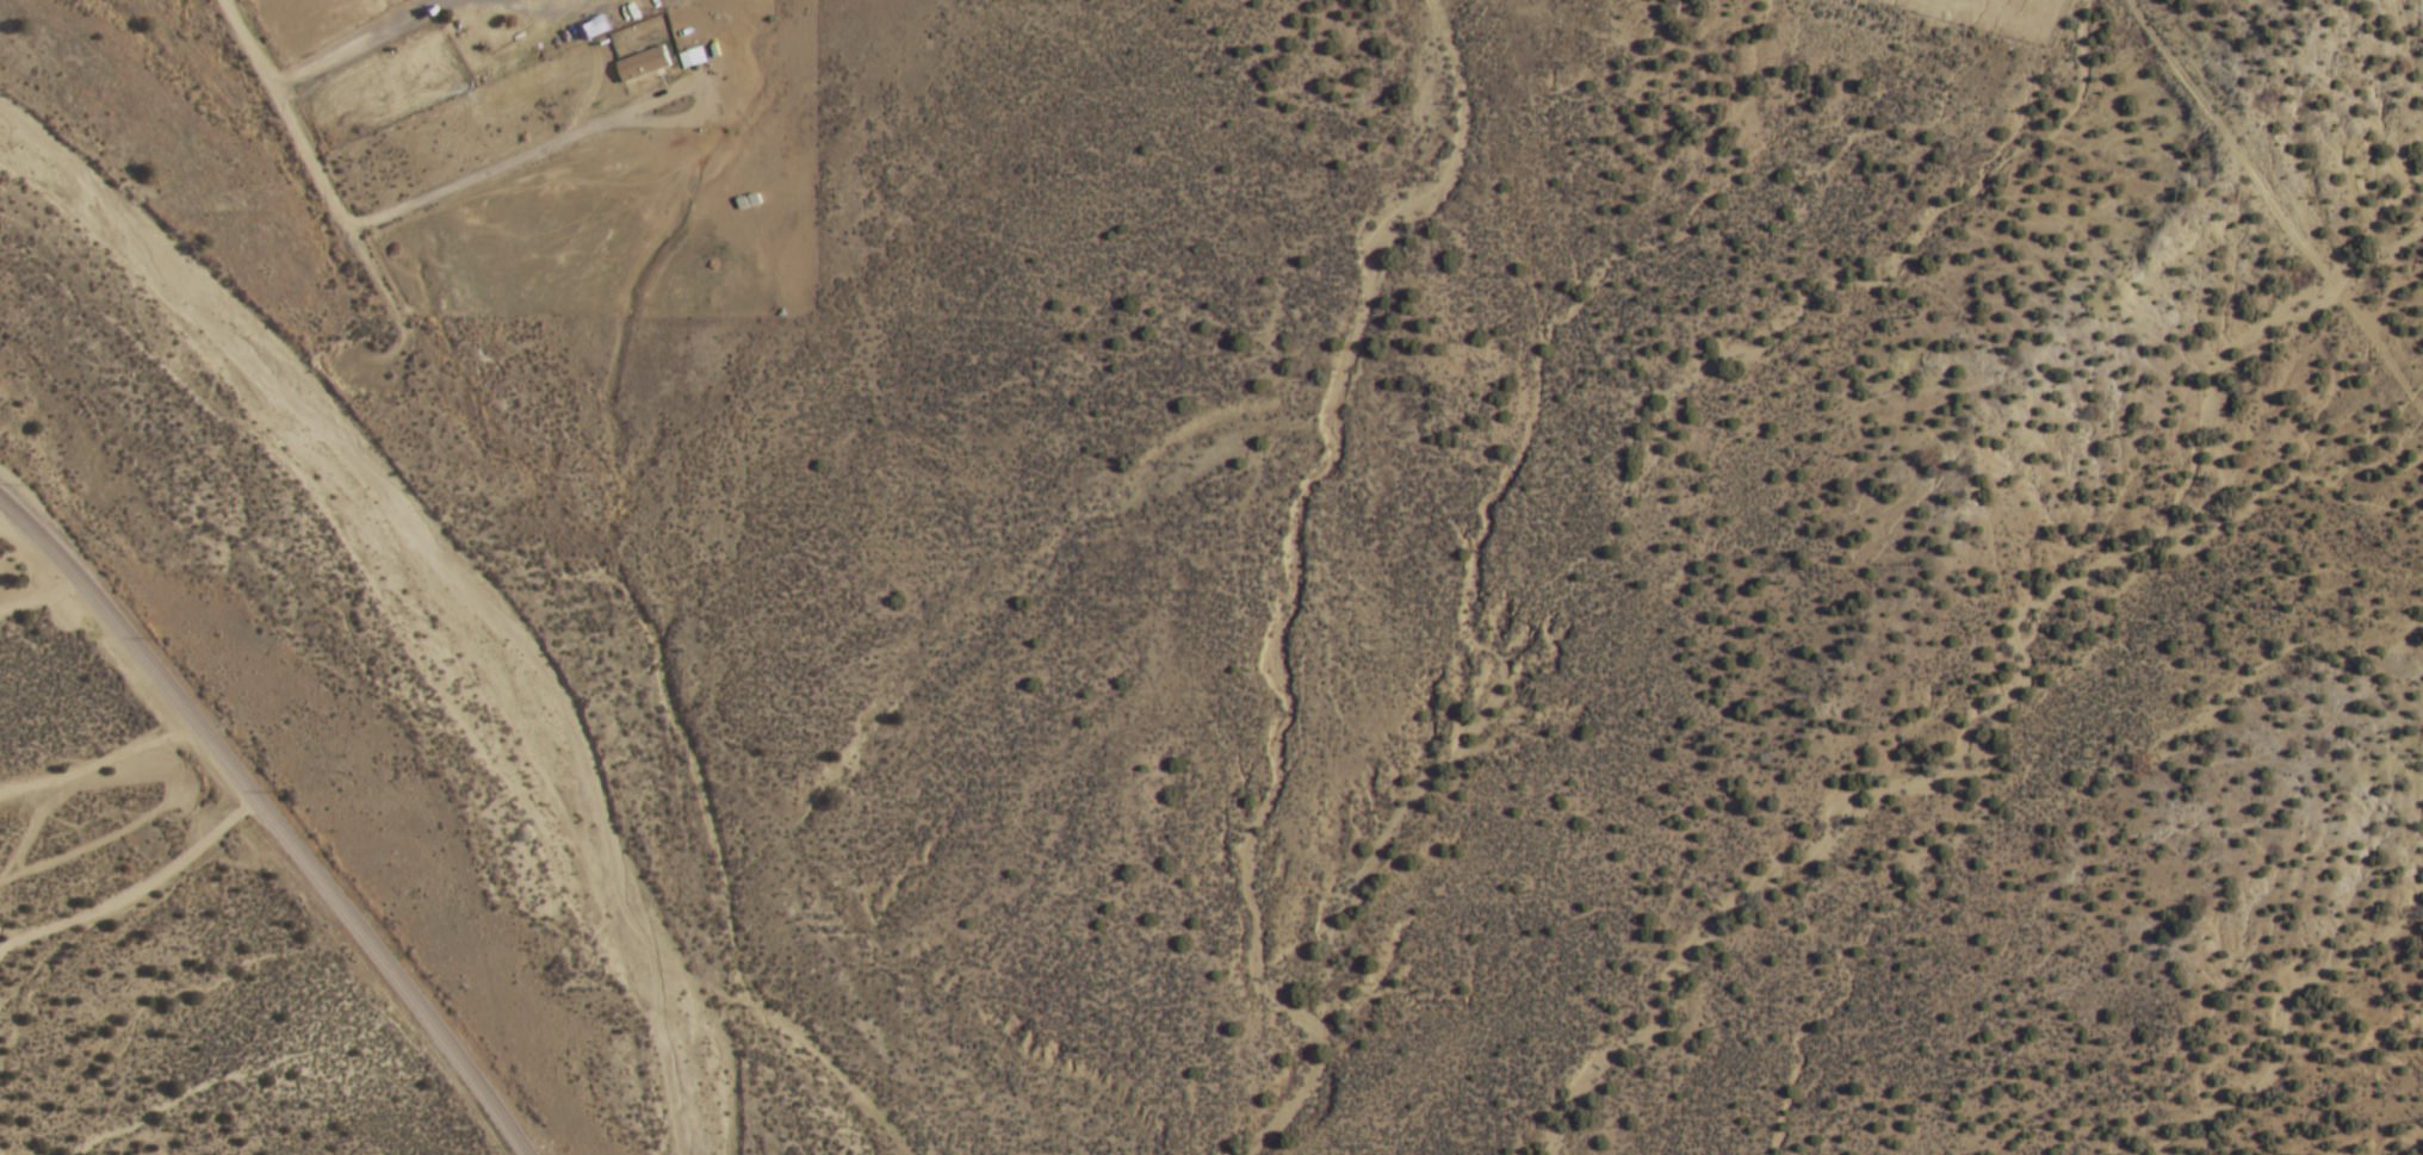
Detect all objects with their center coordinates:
road: (1527, 1)
road: (341, 43)
building: (694, 57)
building: (681, 60)
building: (632, 67)
road: (275, 113)
road: (569, 133)
road: (2263, 212)
river: (428, 589)
road: (32, 591)
road: (98, 763)
road: (273, 822)
road: (136, 890)

